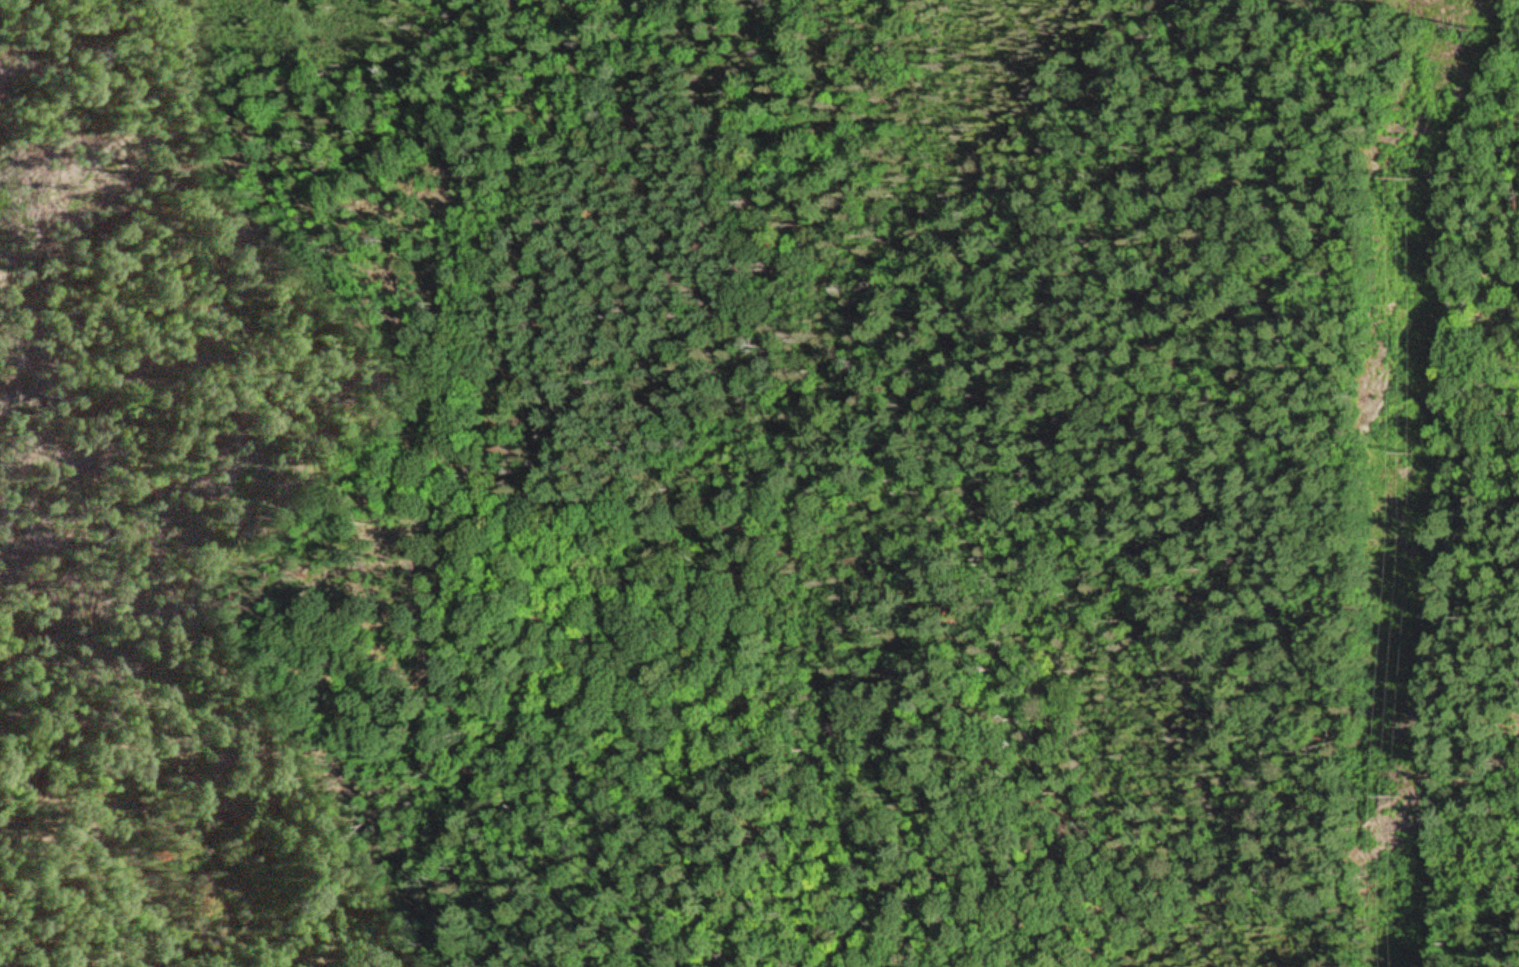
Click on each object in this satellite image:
road: (147, 498)

